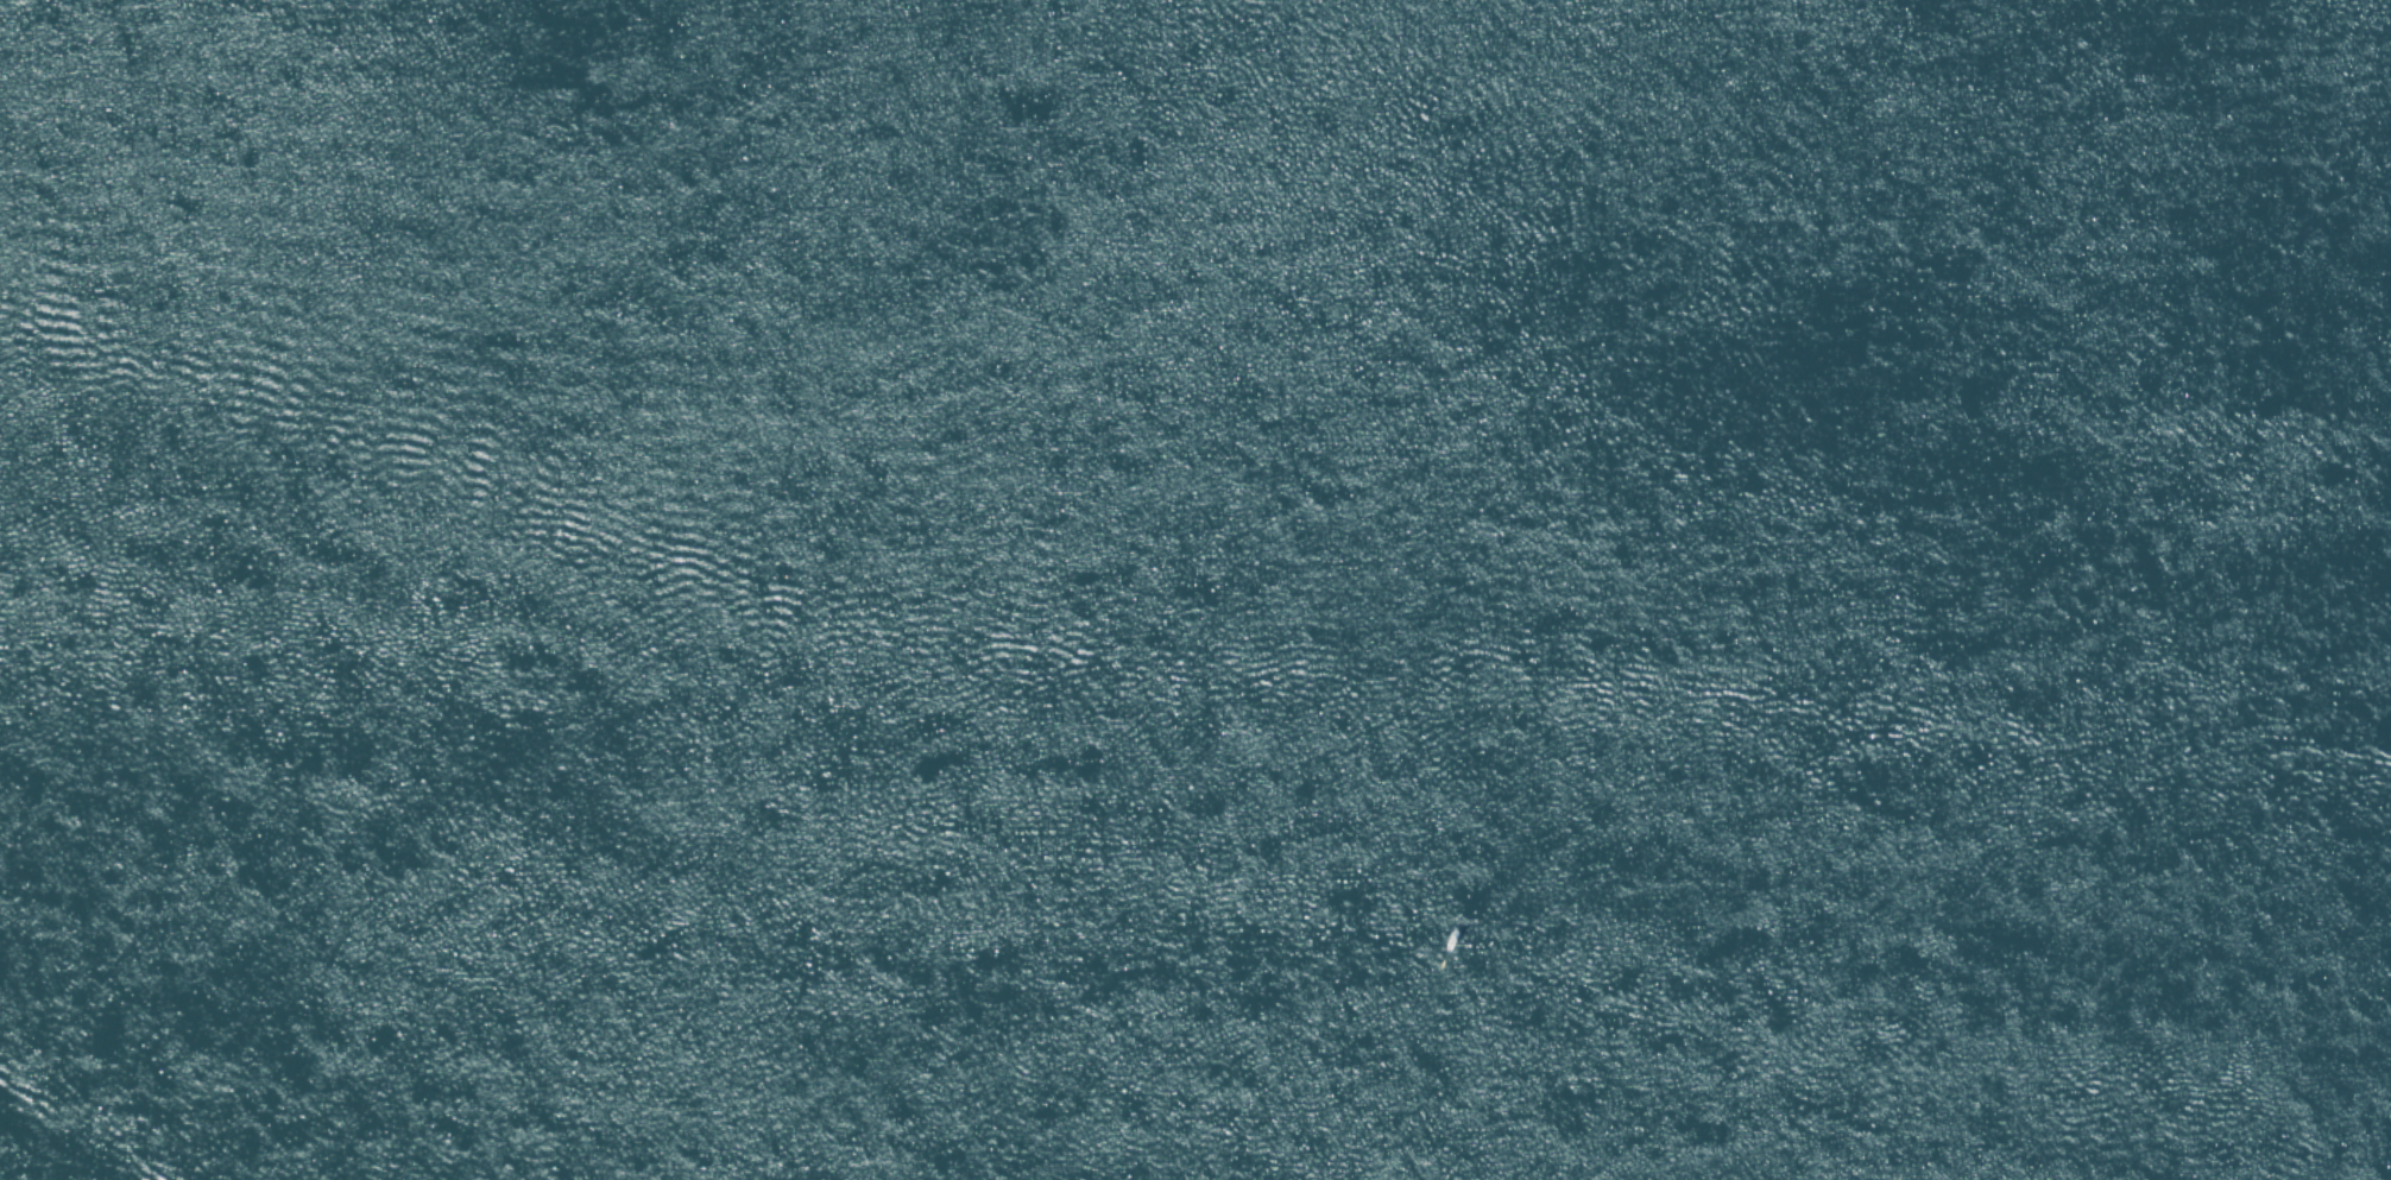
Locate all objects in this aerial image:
river: (1146, 837)

